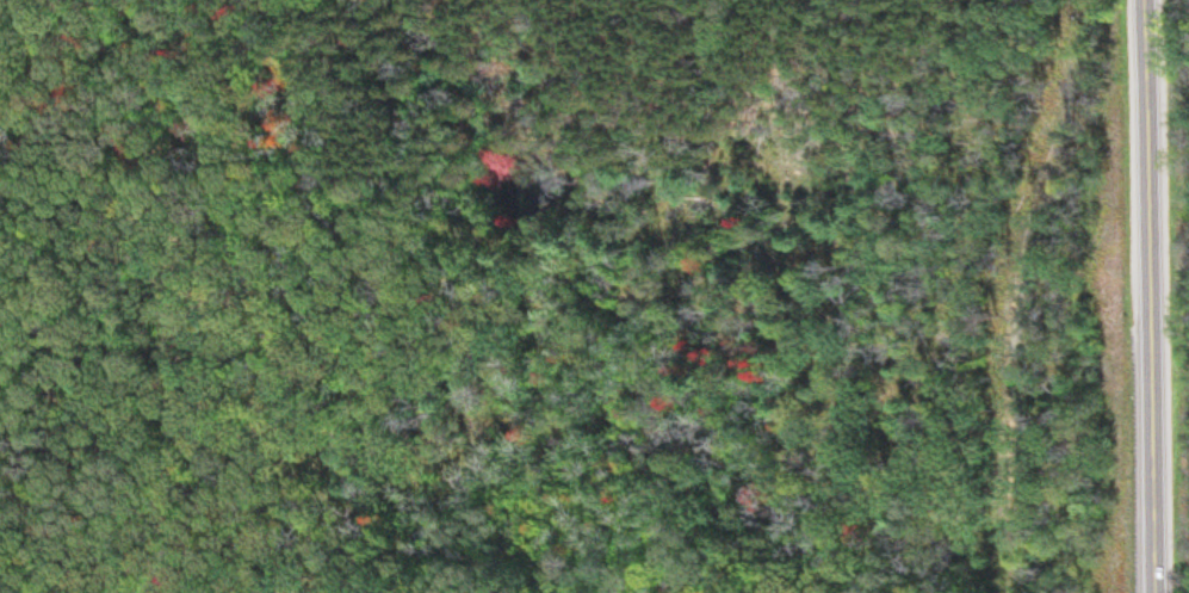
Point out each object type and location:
road: (1151, 17)
road: (1156, 314)

